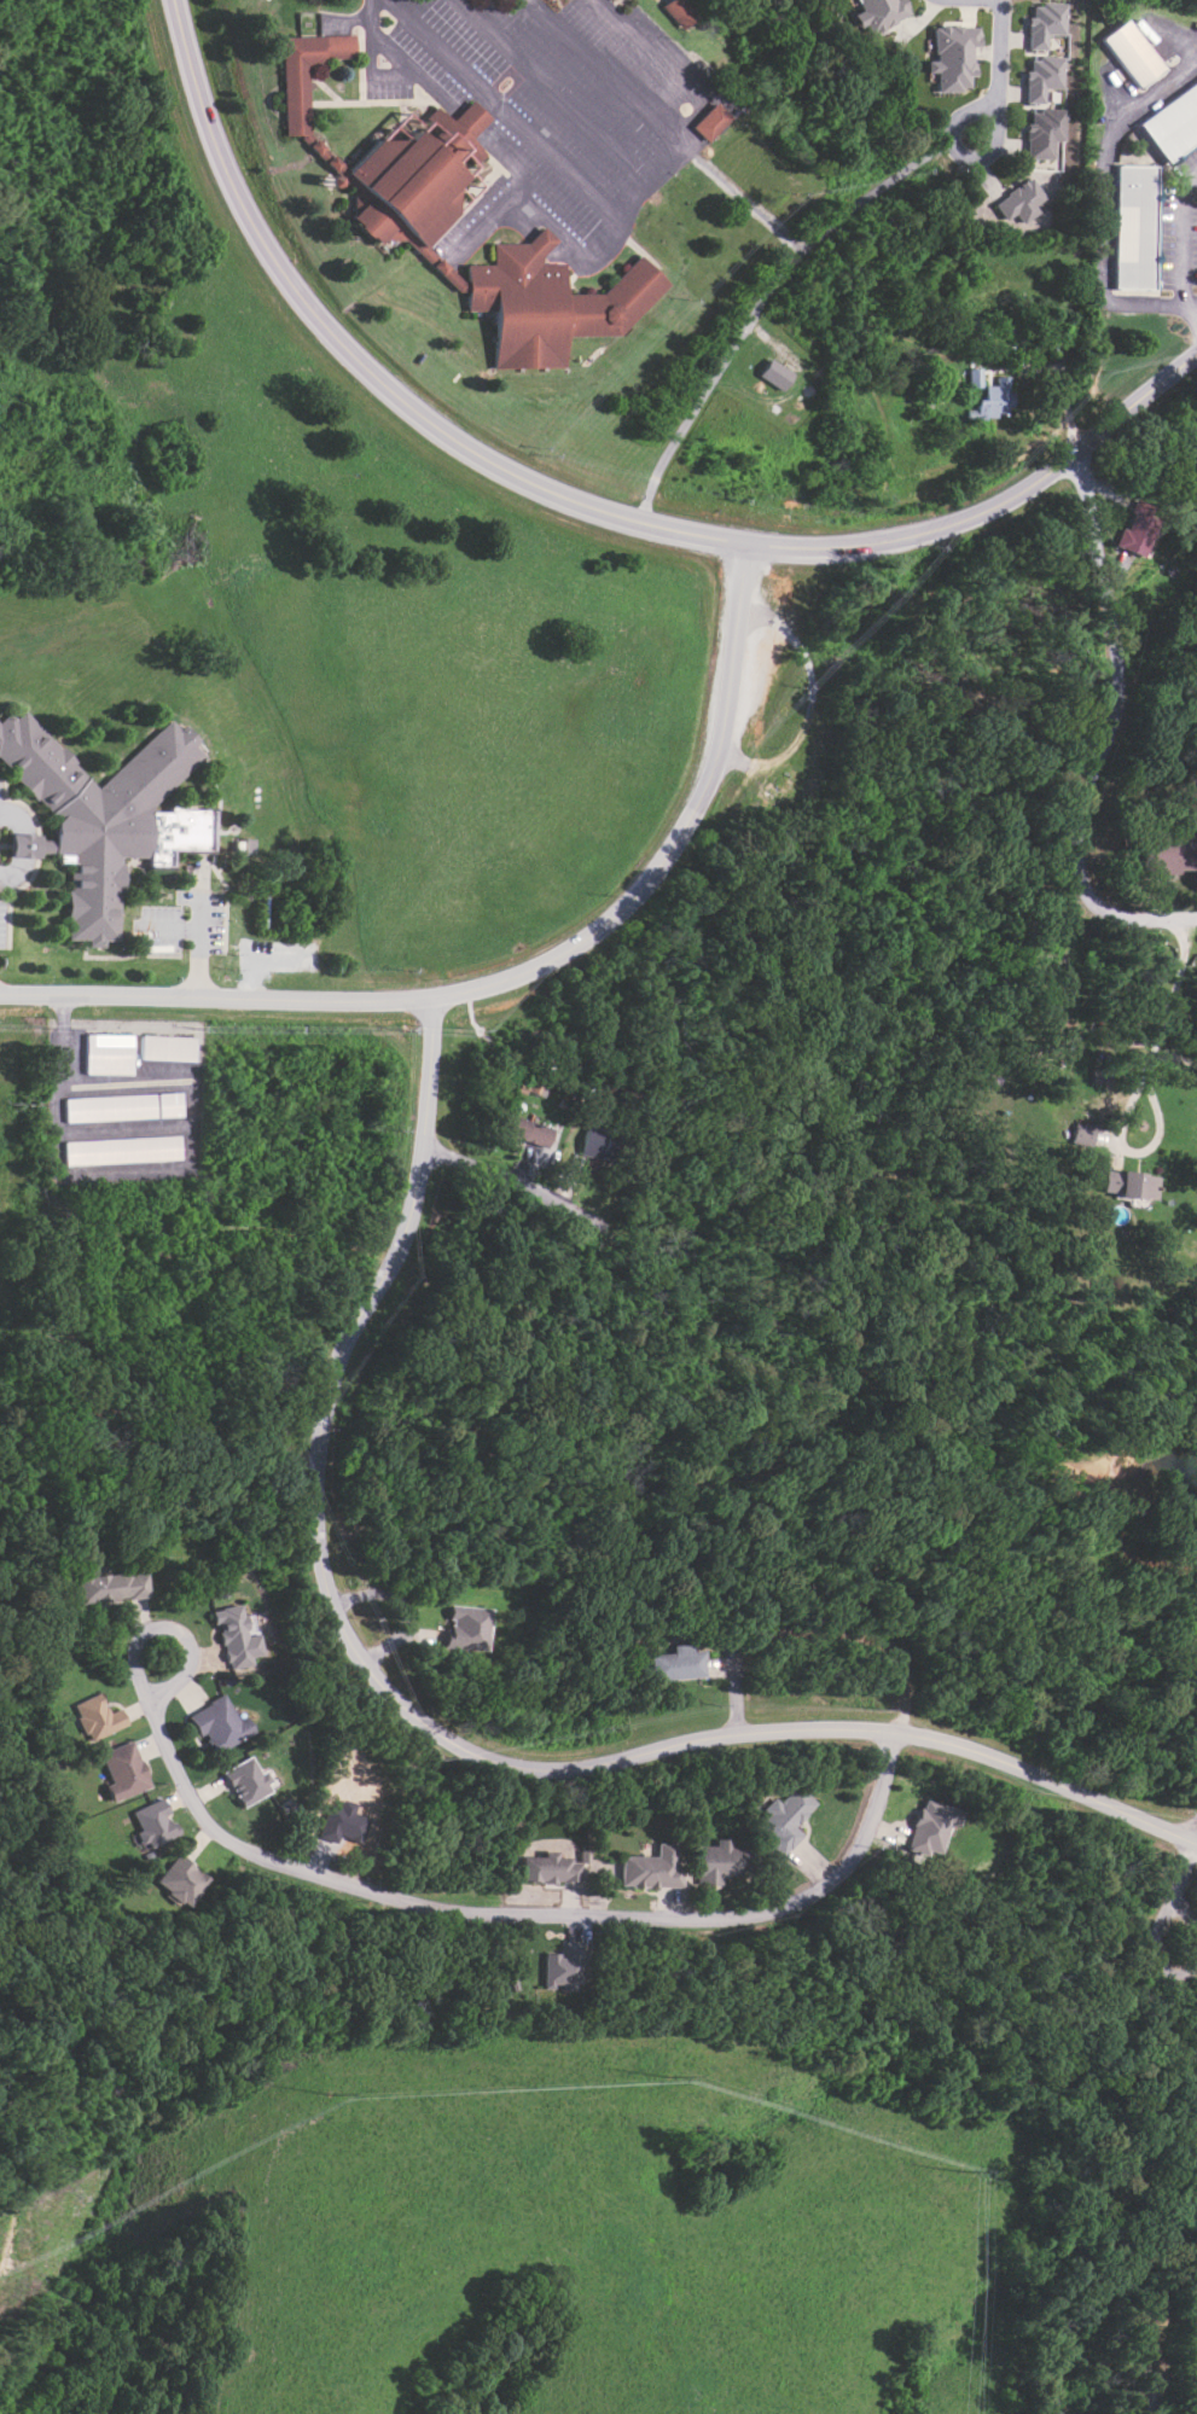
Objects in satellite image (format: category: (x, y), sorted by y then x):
building: (680, 12)
building: (879, 13)
road: (349, 22)
building: (1045, 24)
building: (1133, 54)
building: (953, 57)
road: (1001, 60)
road: (401, 65)
road: (664, 68)
building: (1041, 77)
road: (552, 92)
parking lot: (541, 99)
road: (501, 112)
road: (977, 112)
building: (472, 122)
building: (1174, 124)
road: (469, 126)
building: (710, 126)
road: (663, 128)
building: (1044, 133)
building: (1134, 173)
building: (326, 185)
road: (518, 186)
building: (1134, 188)
building: (1019, 200)
building: (405, 203)
building: (1133, 203)
building: (1133, 219)
road: (621, 221)
road: (553, 231)
road: (480, 233)
building: (1133, 234)
building: (541, 244)
road: (542, 244)
building: (1132, 249)
road: (1179, 250)
building: (1132, 264)
building: (1132, 280)
road: (760, 306)
road: (1193, 308)
road: (366, 372)
building: (774, 374)
building: (995, 395)
road: (994, 504)
building: (1132, 537)
road: (1108, 733)
building: (104, 816)
road: (22, 845)
road: (170, 931)
road: (198, 937)
road: (513, 972)
road: (1169, 997)
building: (169, 1047)
building: (109, 1054)
building: (123, 1107)
building: (523, 1130)
building: (1081, 1135)
building: (595, 1142)
building: (123, 1148)
building: (1128, 1185)
road: (292, 1232)
road: (679, 1255)
road: (320, 1418)
road: (97, 1438)
road: (676, 1483)
building: (112, 1586)
road: (402, 1606)
building: (464, 1627)
road: (821, 1633)
building: (236, 1636)
building: (678, 1664)
building: (97, 1717)
building: (219, 1724)
road: (435, 1729)
building: (123, 1770)
building: (246, 1781)
building: (784, 1819)
building: (152, 1823)
building: (929, 1828)
road: (1196, 1836)
building: (717, 1863)
building: (548, 1868)
building: (653, 1868)
building: (180, 1881)
road: (1178, 1890)
road: (420, 1904)
building: (564, 1968)
road: (16, 2164)
road: (1163, 2378)

